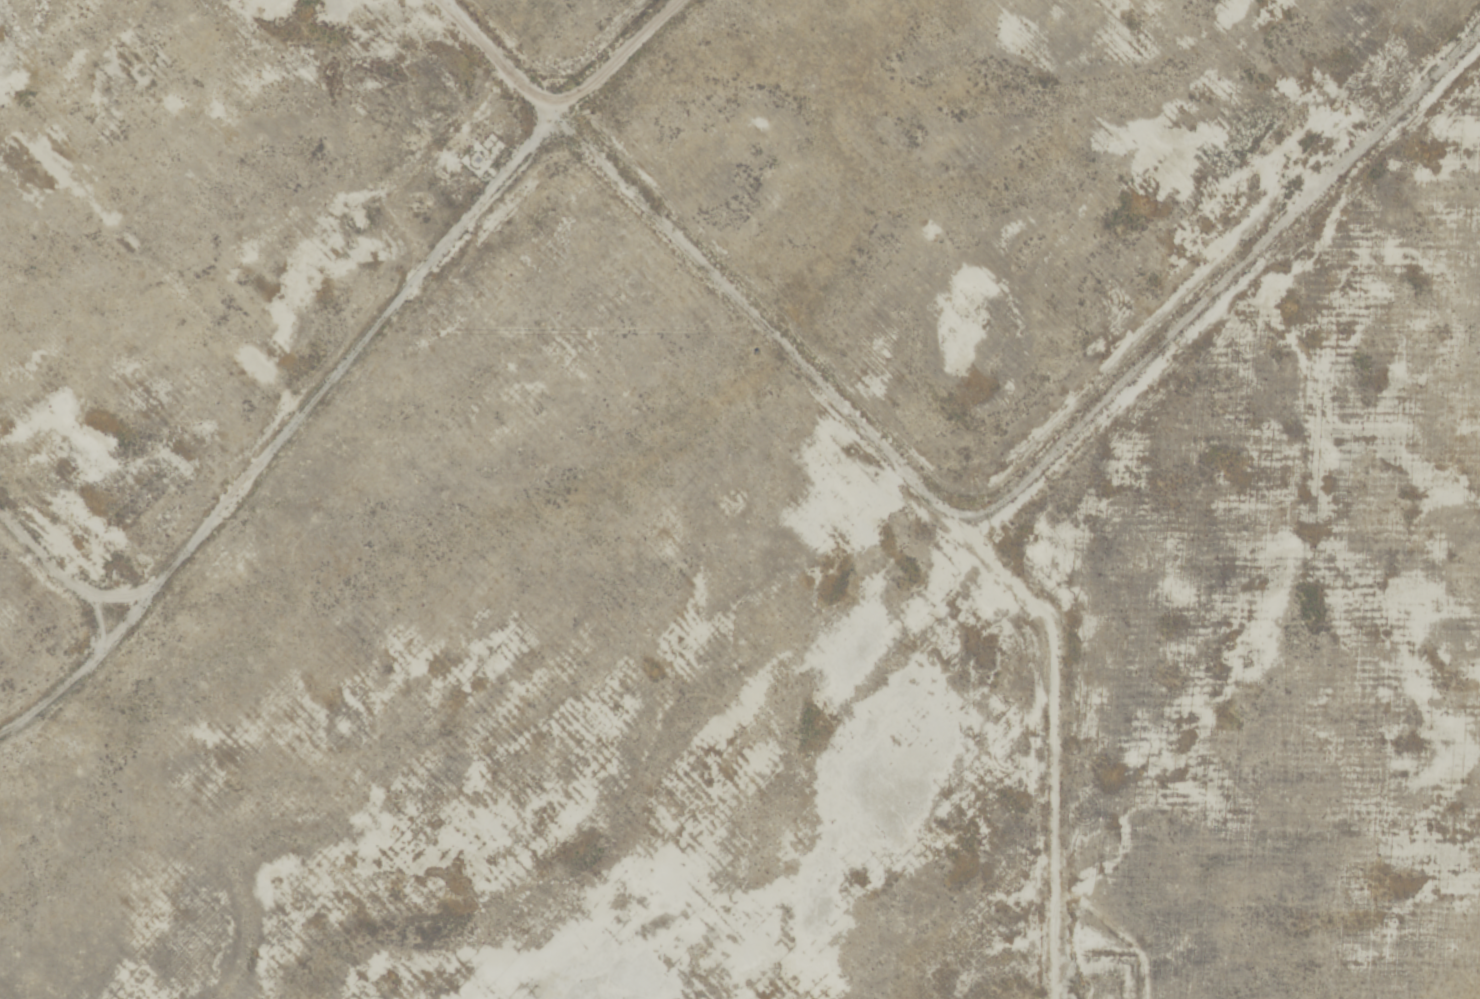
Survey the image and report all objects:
road: (496, 58)
road: (278, 428)
road: (955, 511)
road: (56, 680)

